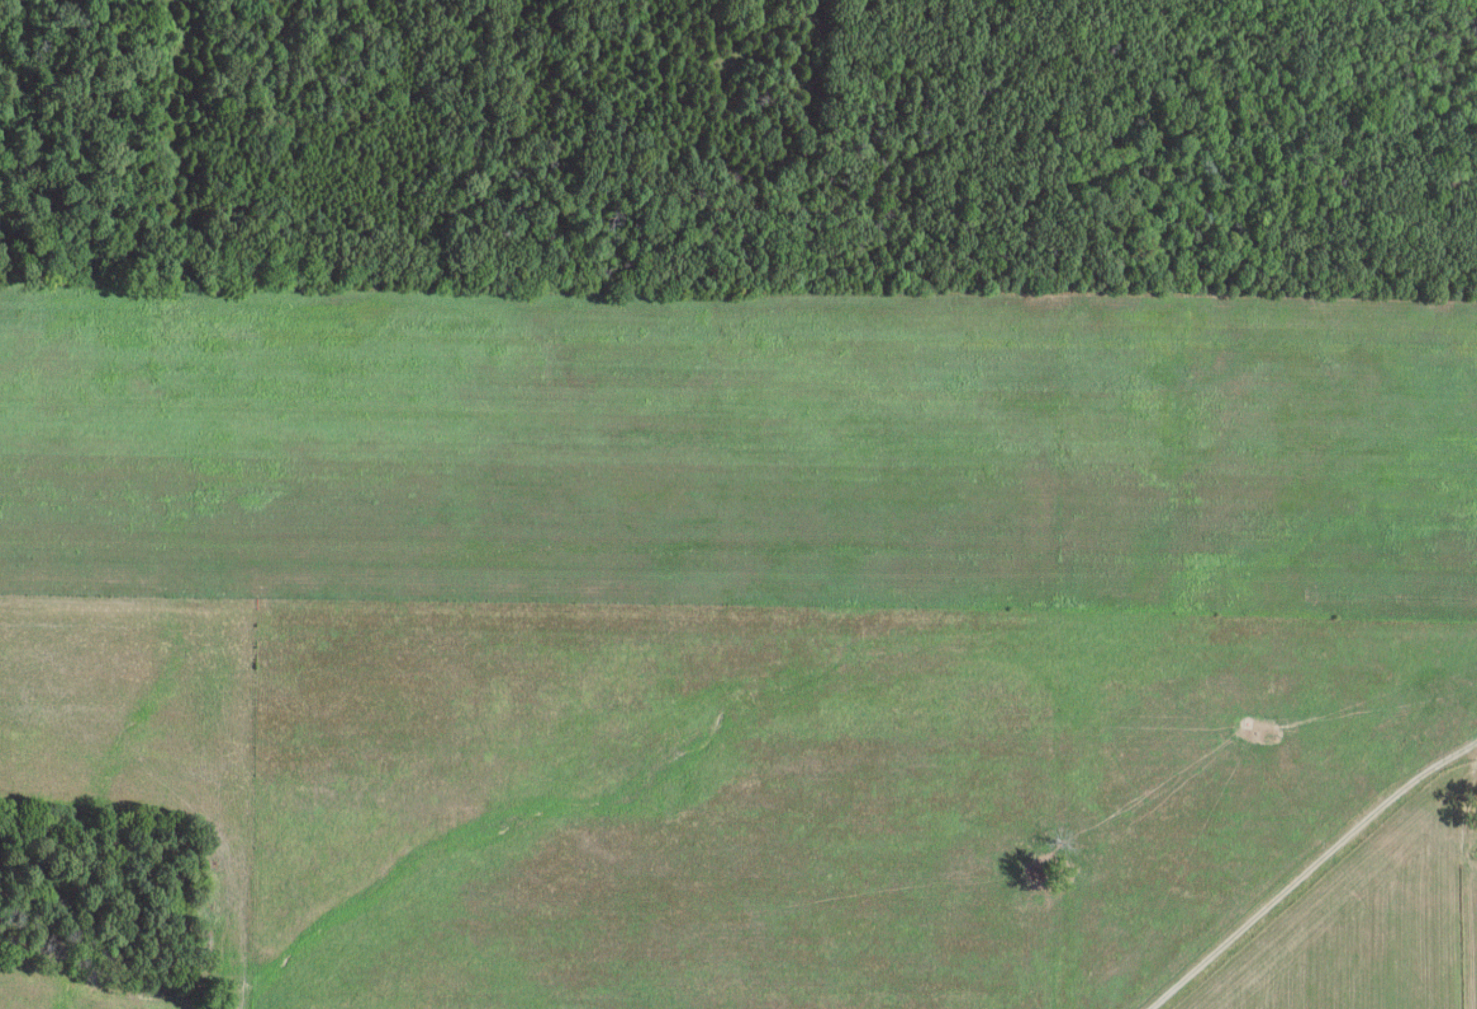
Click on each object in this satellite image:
road: (1313, 872)

